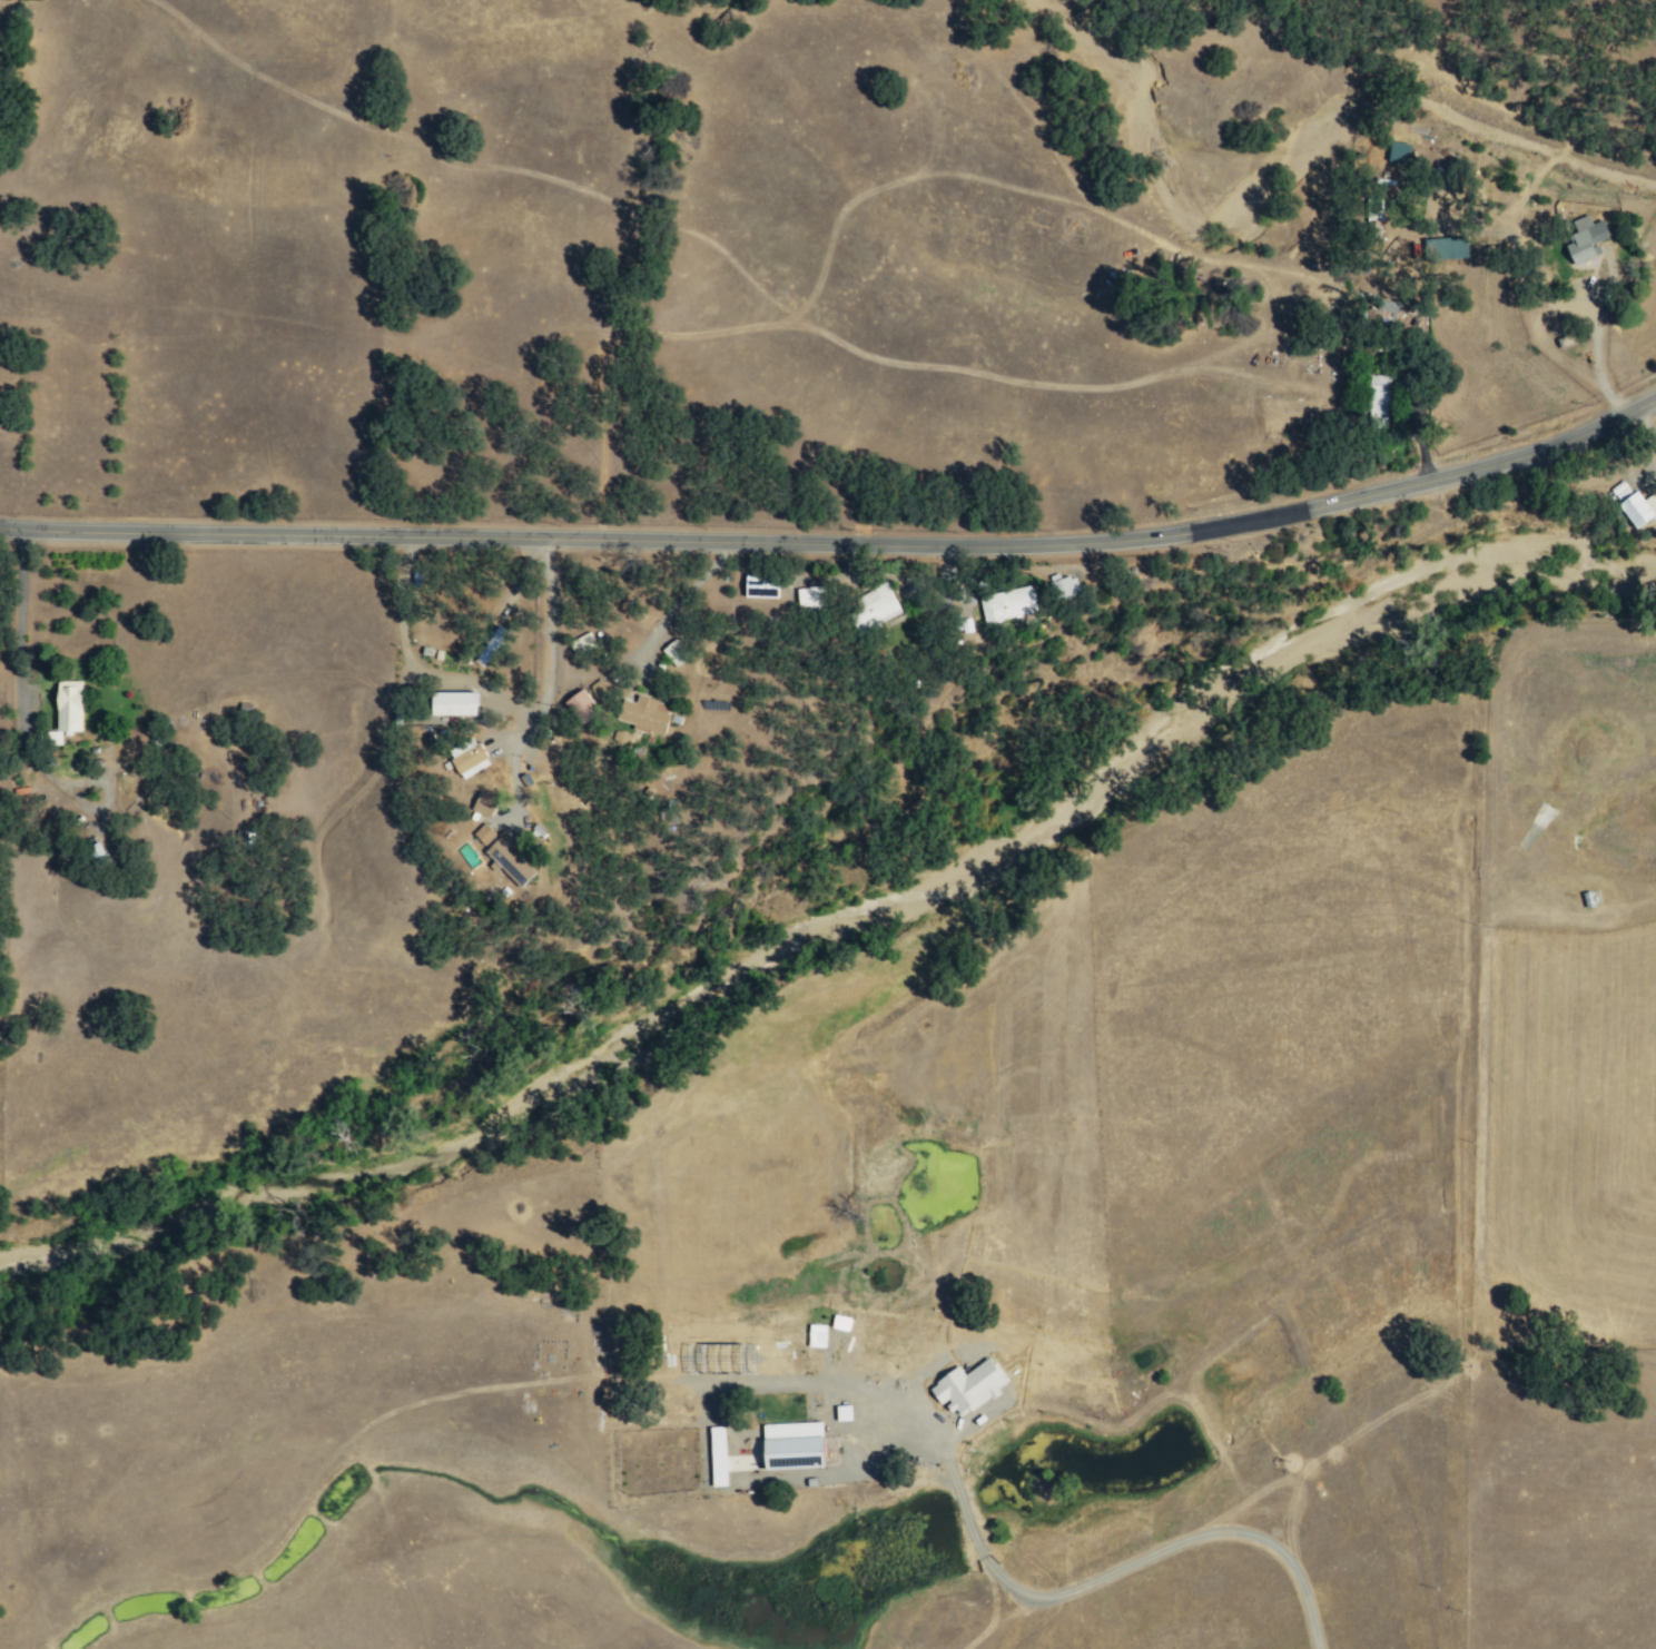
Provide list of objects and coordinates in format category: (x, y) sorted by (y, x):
building: (1398, 152)
building: (1585, 239)
building: (1445, 248)
building: (1378, 401)
building: (1632, 505)
road: (838, 544)
building: (759, 586)
building: (809, 596)
building: (1006, 603)
building: (875, 606)
building: (579, 643)
building: (486, 644)
building: (673, 652)
road: (495, 690)
building: (599, 691)
building: (579, 702)
building: (452, 703)
building: (66, 710)
building: (643, 713)
building: (619, 737)
building: (469, 761)
road: (507, 768)
building: (482, 803)
building: (483, 833)
building: (507, 858)
river: (834, 907)
road: (1480, 1167)
building: (839, 1323)
building: (816, 1335)
road: (997, 1344)
road: (730, 1382)
building: (966, 1388)
road: (364, 1424)
road: (1377, 1425)
building: (791, 1445)
building: (717, 1457)
road: (1117, 1570)
road: (992, 1610)
road: (151, 1646)

